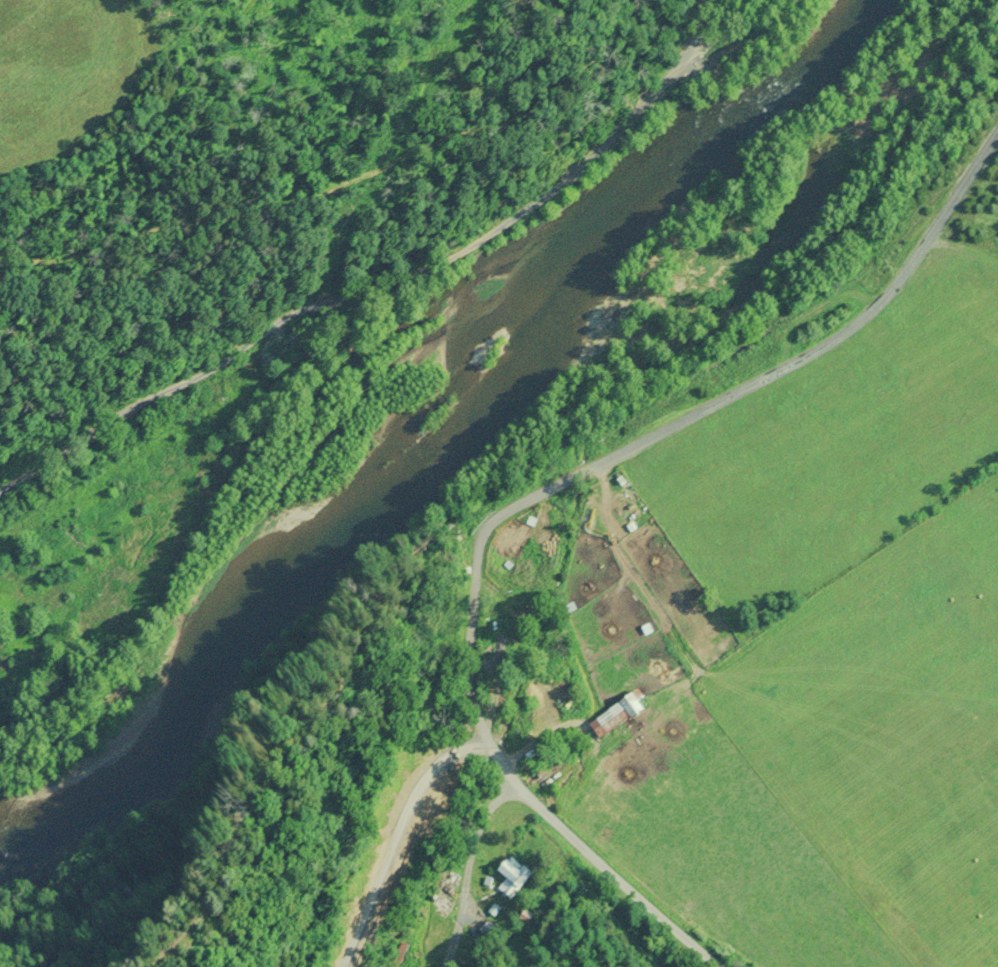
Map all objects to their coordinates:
road: (385, 275)
river: (437, 434)
road: (653, 437)
building: (508, 633)
building: (623, 715)
road: (476, 862)
building: (514, 877)
road: (630, 880)
building: (449, 891)

